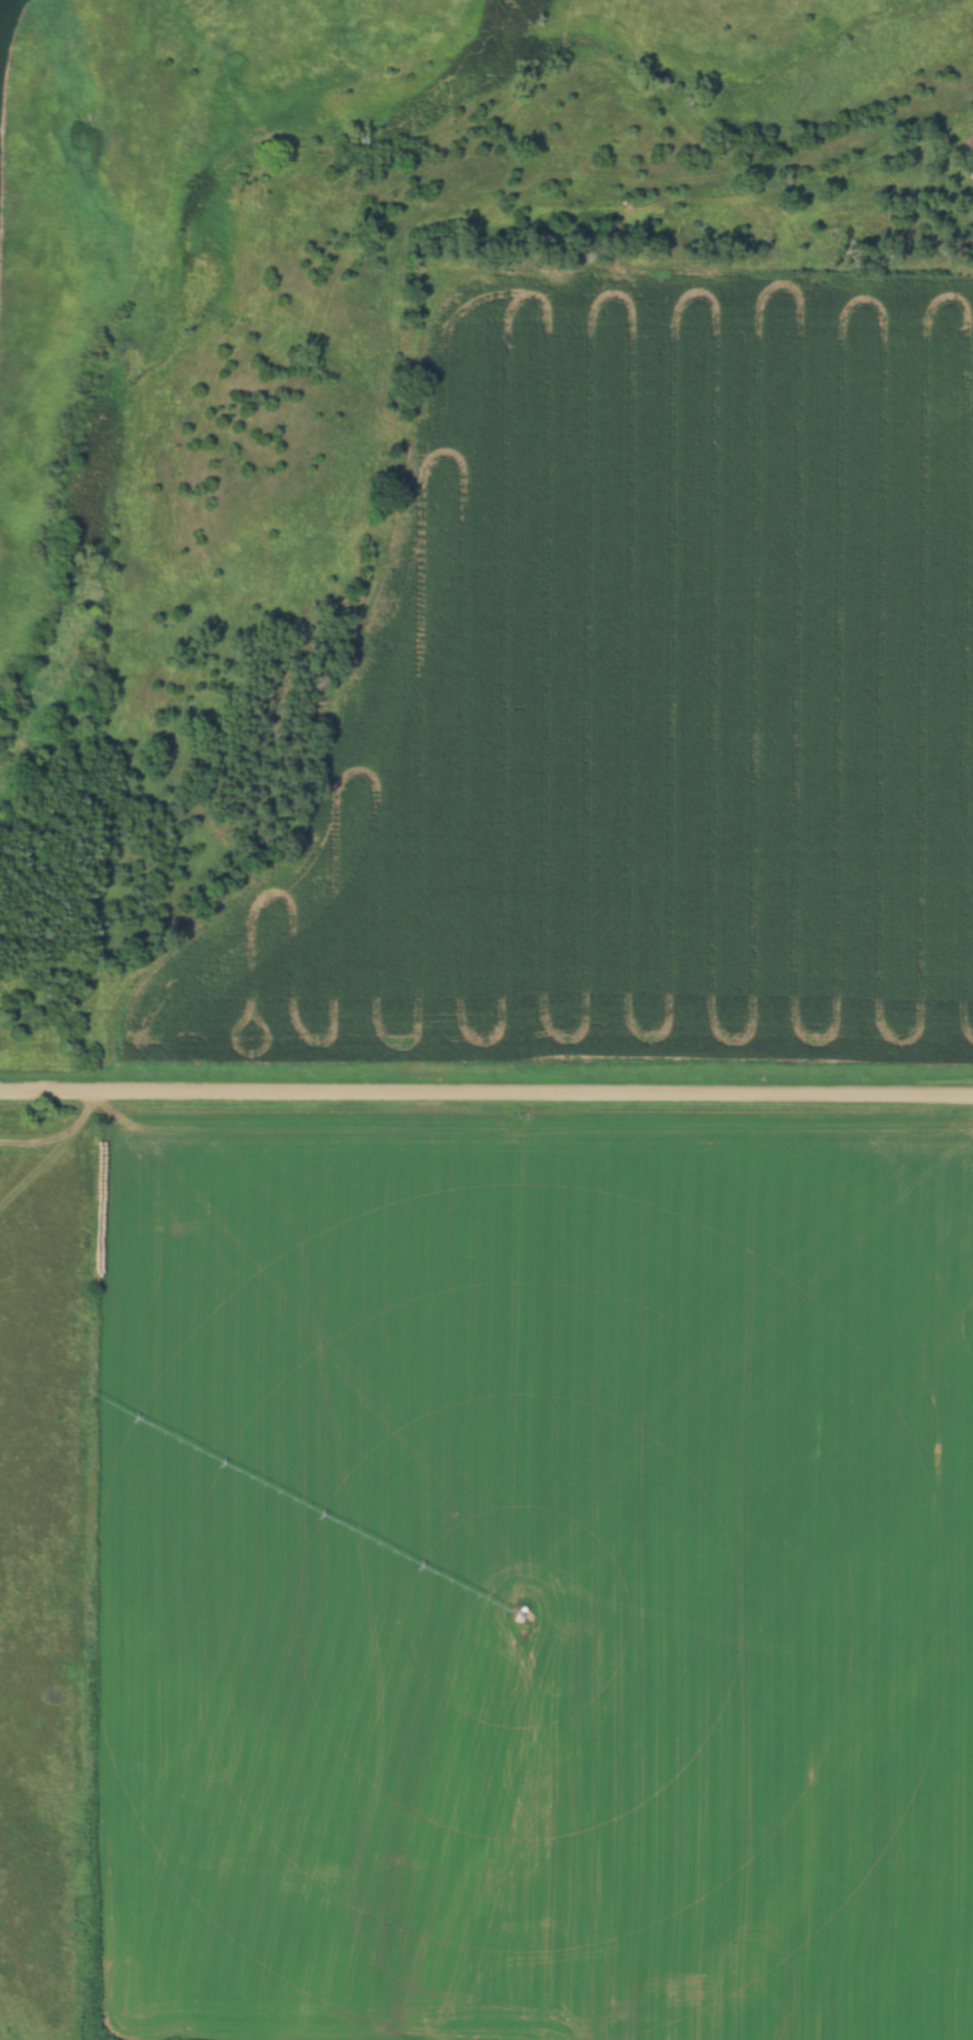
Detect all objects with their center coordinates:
road: (486, 1101)

